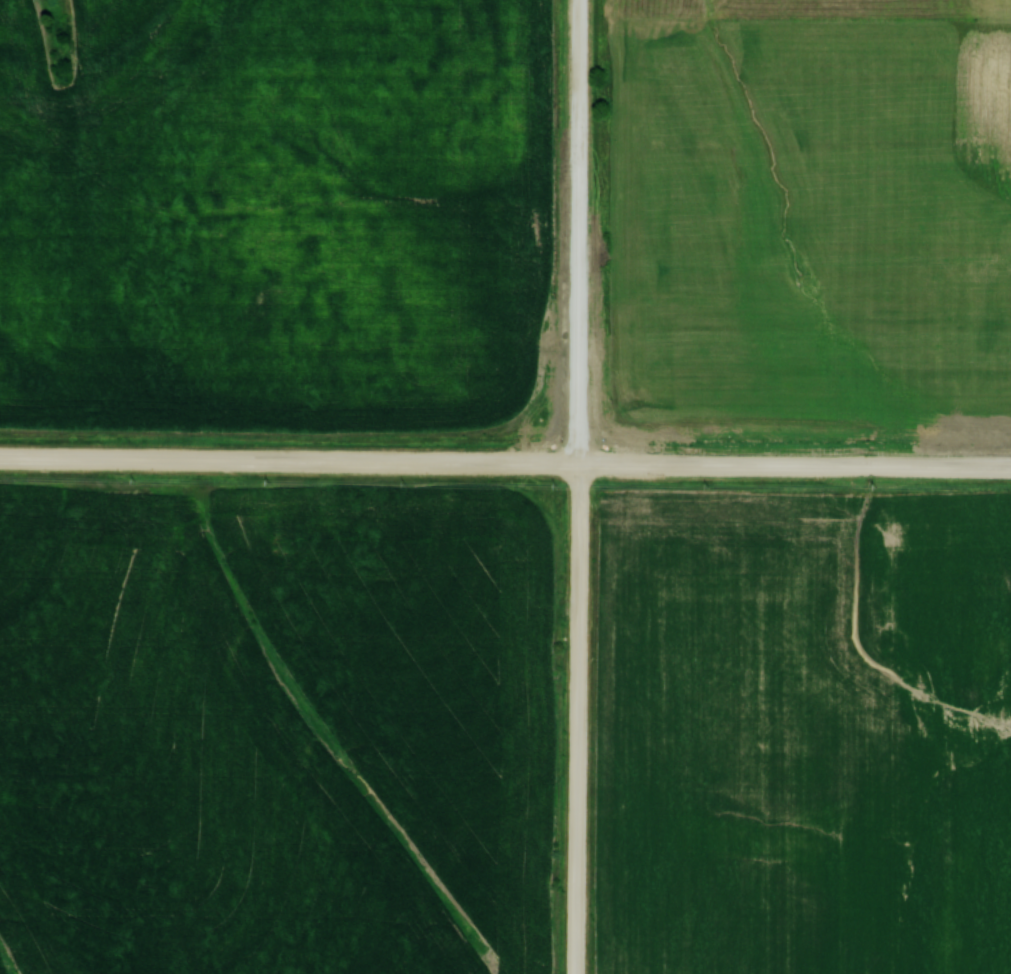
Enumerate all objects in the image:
road: (289, 461)
road: (794, 465)
road: (577, 486)

